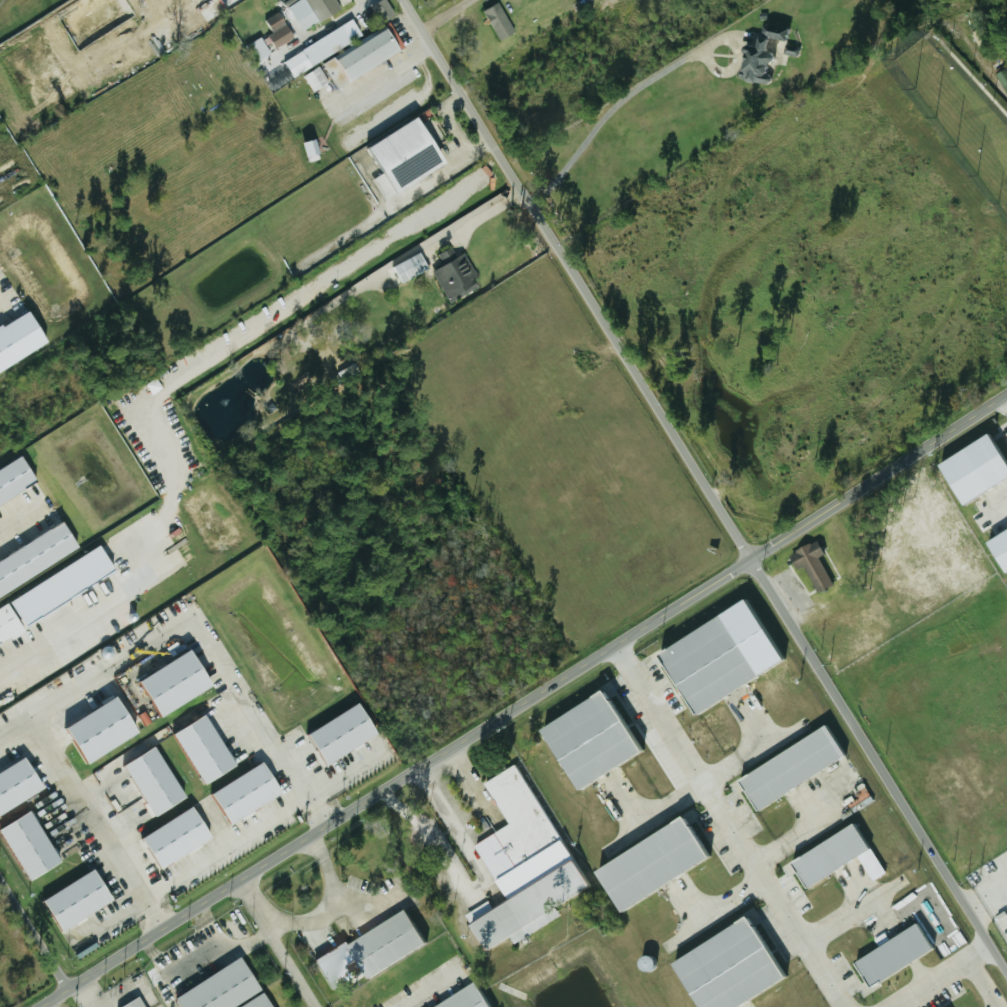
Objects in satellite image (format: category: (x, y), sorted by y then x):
road: (361, 2)
building: (384, 10)
building: (313, 11)
road: (449, 15)
building: (499, 21)
road: (325, 27)
building: (279, 29)
building: (323, 47)
building: (258, 49)
building: (760, 55)
building: (355, 61)
road: (388, 75)
road: (617, 105)
building: (313, 149)
building: (408, 157)
road: (373, 247)
road: (407, 255)
park: (827, 264)
building: (411, 268)
building: (455, 275)
building: (21, 340)
road: (1006, 394)
building: (968, 470)
building: (17, 482)
road: (705, 490)
road: (12, 513)
building: (996, 549)
building: (38, 559)
building: (807, 566)
building: (53, 596)
road: (70, 621)
building: (721, 657)
road: (109, 667)
building: (178, 685)
road: (525, 701)
road: (14, 726)
building: (103, 731)
building: (346, 734)
building: (592, 739)
building: (208, 750)
building: (792, 767)
building: (158, 782)
building: (19, 786)
building: (249, 795)
road: (730, 825)
building: (180, 838)
building: (33, 847)
road: (231, 847)
building: (830, 855)
building: (522, 862)
building: (654, 862)
road: (993, 871)
road: (475, 886)
building: (81, 900)
road: (336, 908)
road: (848, 912)
road: (211, 926)
road: (36, 930)
building: (386, 943)
road: (277, 944)
road: (983, 947)
road: (977, 952)
building: (894, 954)
road: (201, 959)
building: (729, 965)
road: (933, 980)
building: (219, 988)
road: (429, 990)
road: (150, 995)
road: (81, 996)
road: (123, 997)
building: (466, 998)
building: (257, 1002)
building: (132, 1003)

